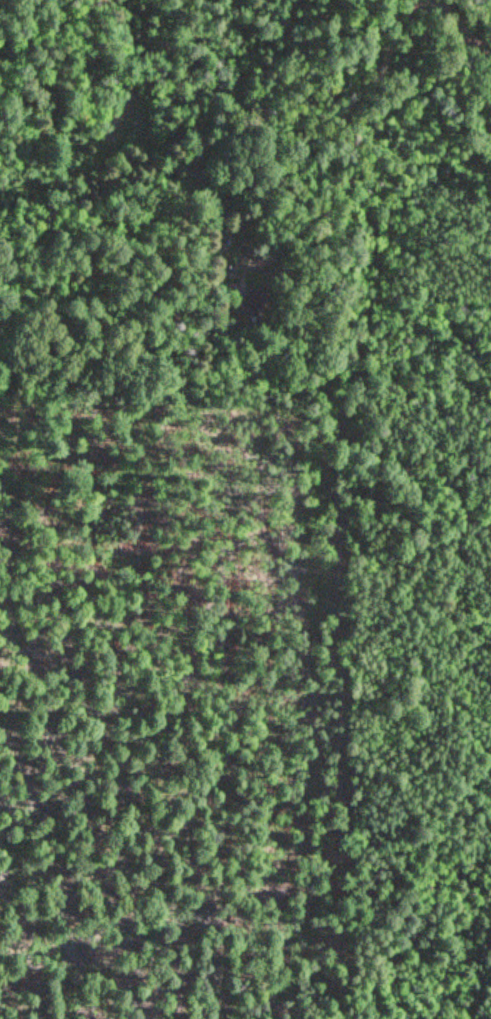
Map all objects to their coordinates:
road: (461, 31)
building: (253, 301)

